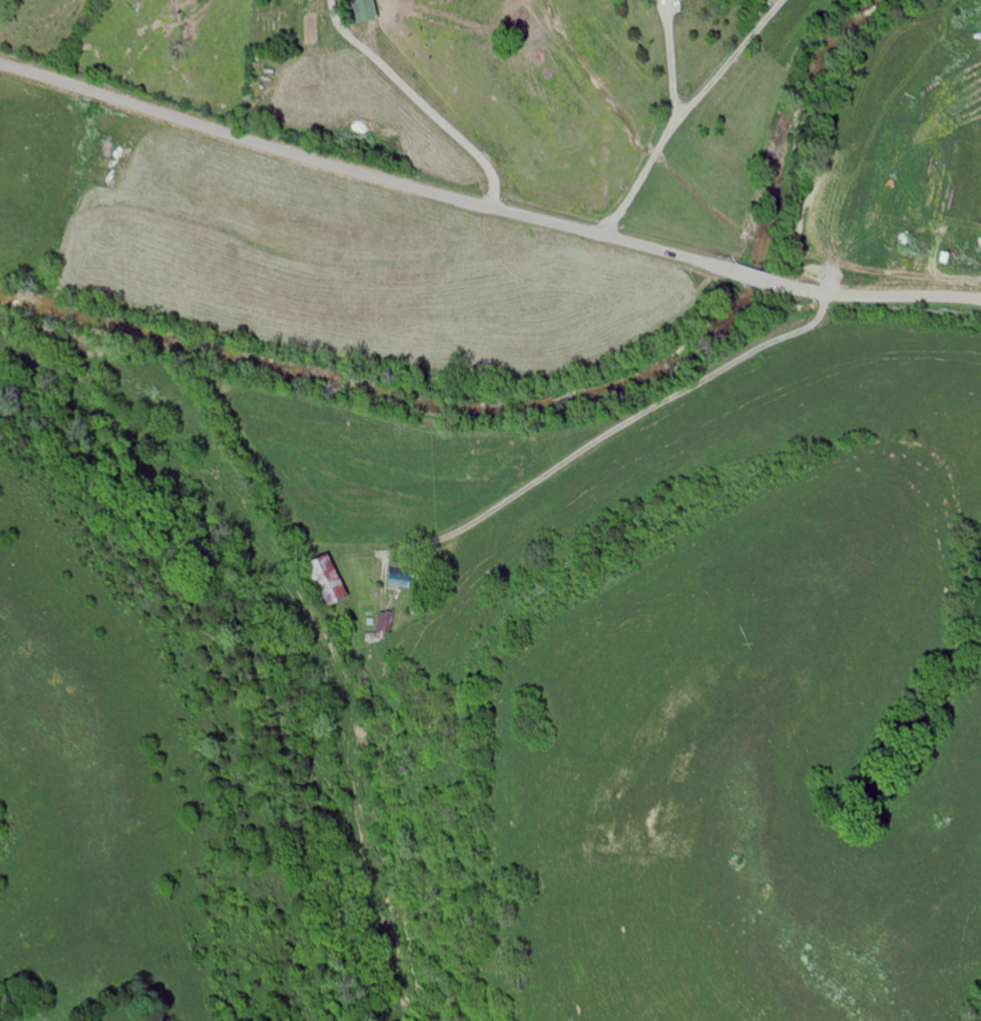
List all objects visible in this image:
building: (367, 10)
road: (670, 58)
road: (426, 108)
road: (685, 110)
road: (485, 207)
road: (611, 429)
building: (401, 579)
building: (386, 624)

